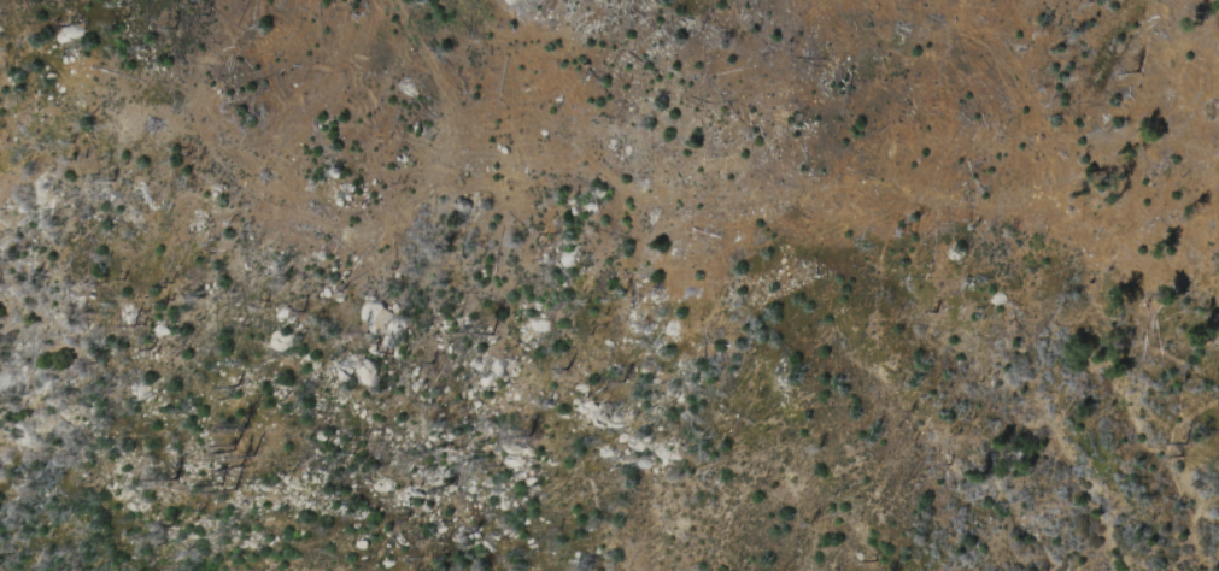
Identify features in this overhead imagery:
park: (8, 13)

